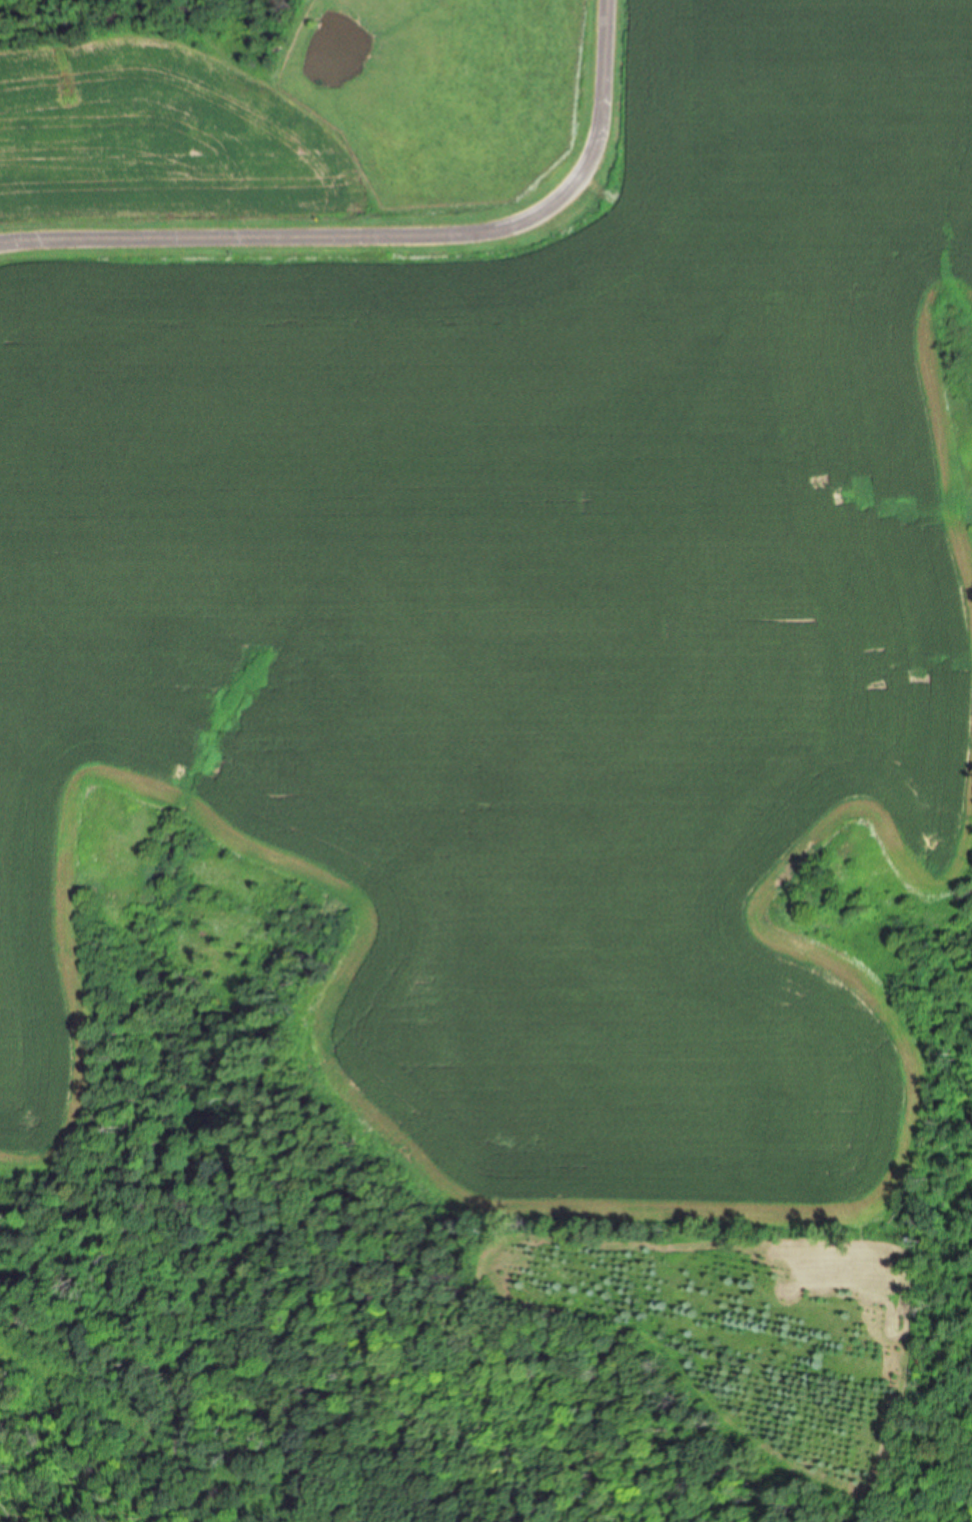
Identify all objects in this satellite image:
road: (395, 254)

